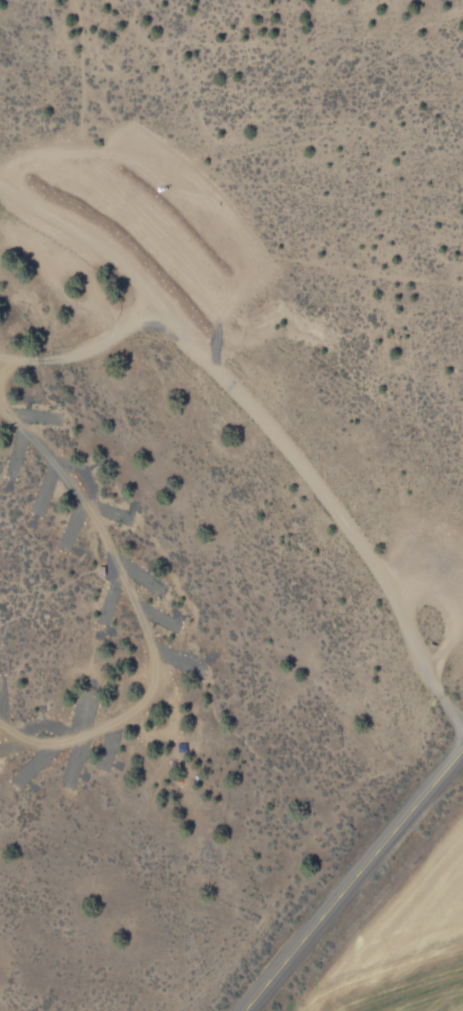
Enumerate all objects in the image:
road: (80, 107)
parking lot: (171, 217)
road: (85, 350)
road: (1, 356)
road: (1, 361)
road: (266, 425)
building: (98, 571)
road: (137, 613)
road: (353, 881)
crop: (414, 905)
crop: (397, 985)

